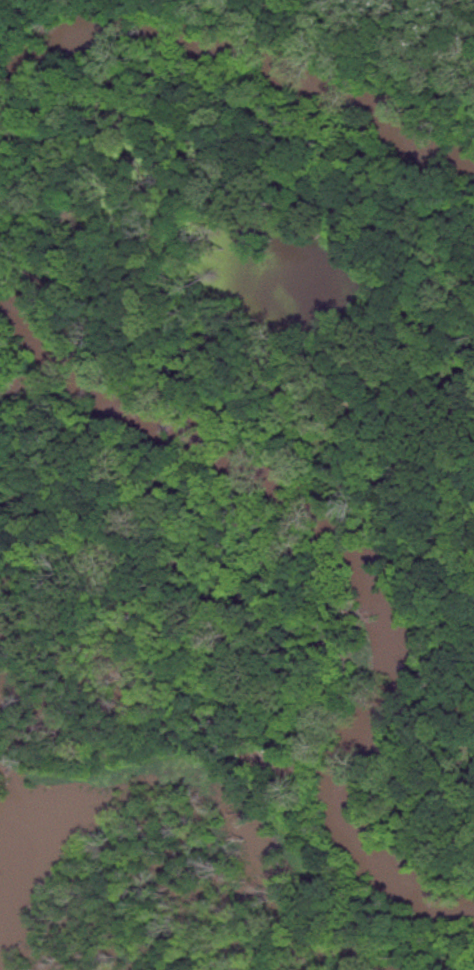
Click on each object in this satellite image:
river: (229, 40)
river: (347, 535)

